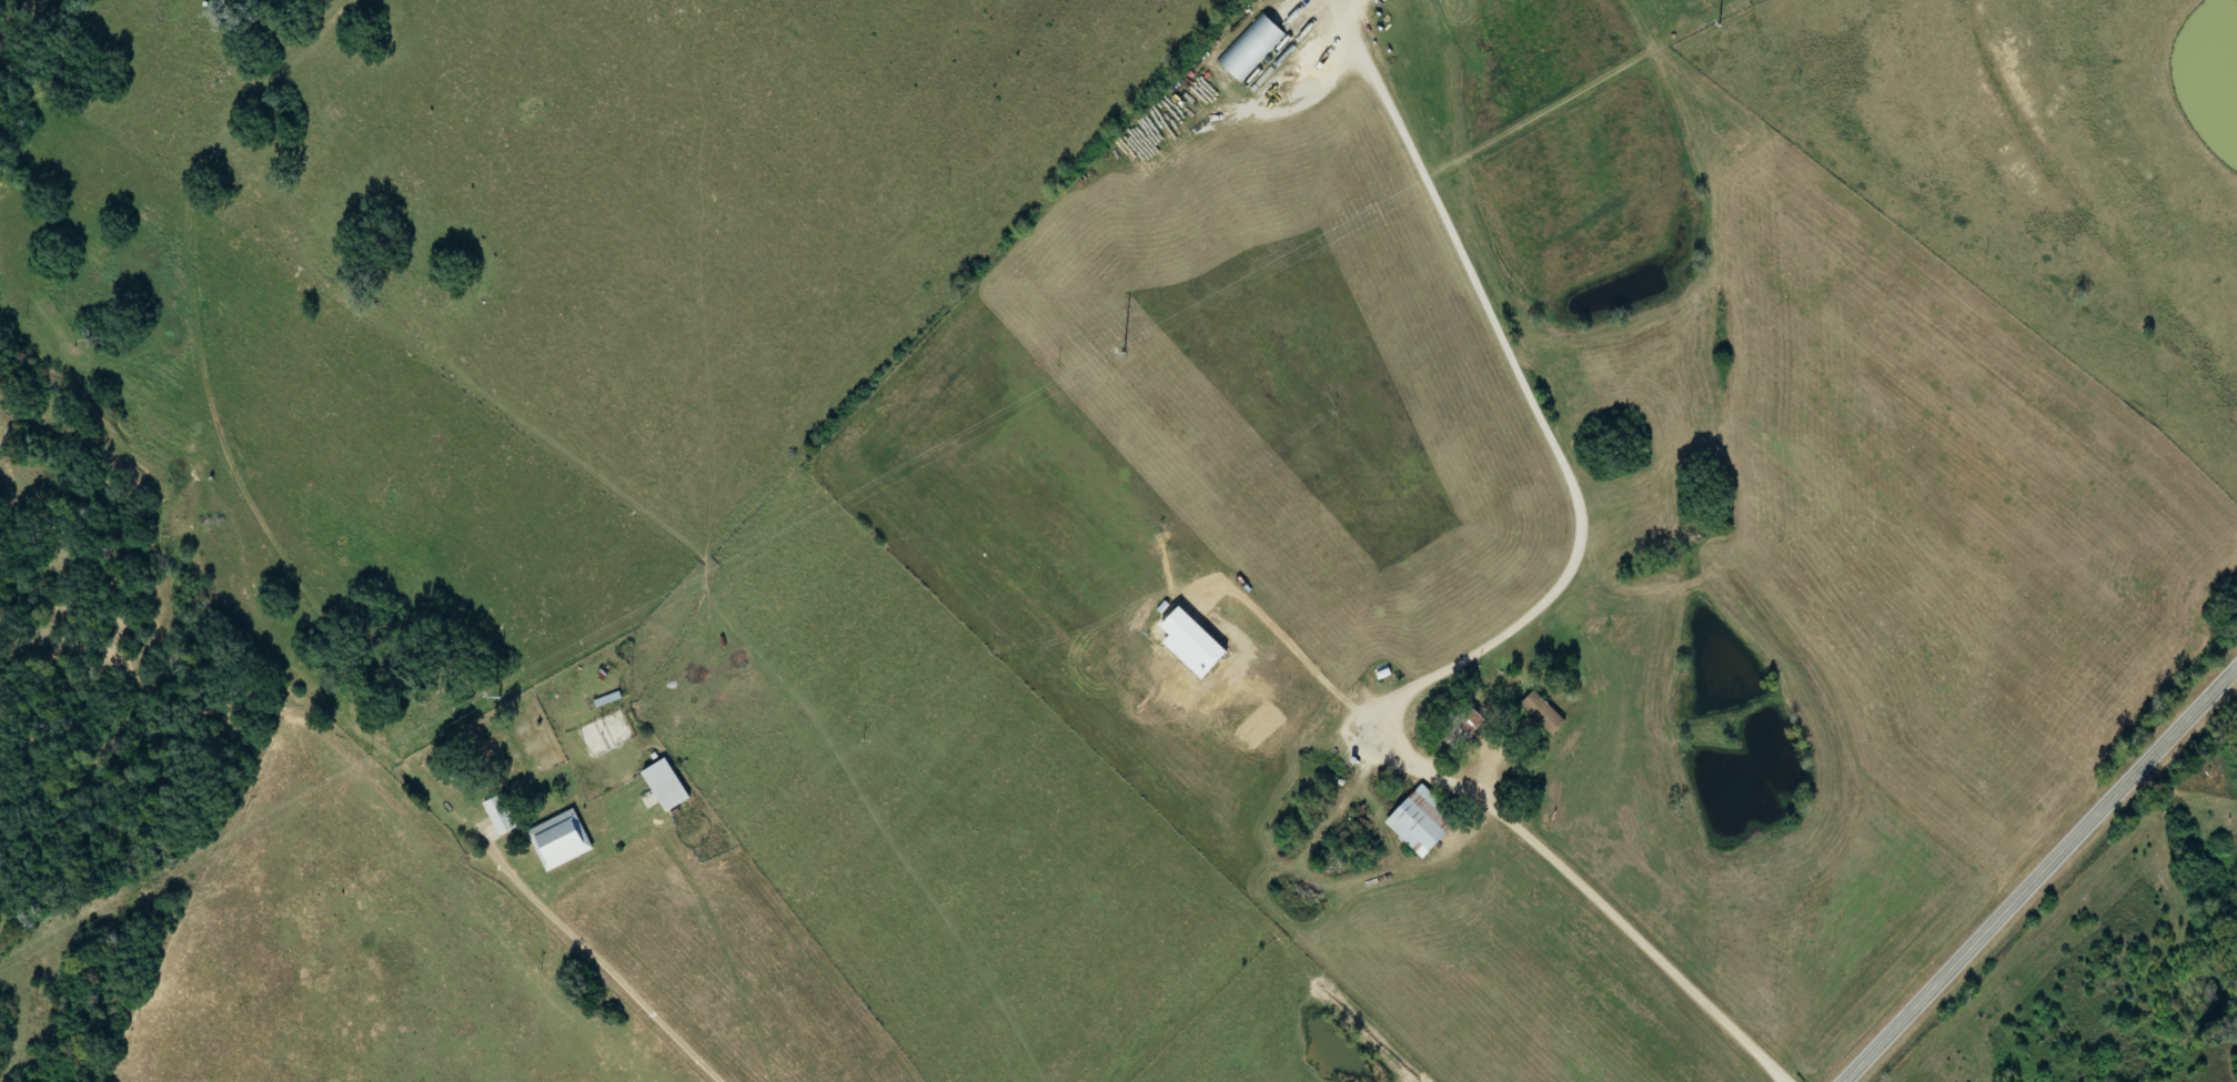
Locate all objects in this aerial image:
building: (1536, 712)
building: (1453, 730)
building: (530, 786)
building: (666, 793)
building: (494, 816)
building: (1417, 821)
road: (2037, 872)
road: (1638, 941)
road: (601, 965)

